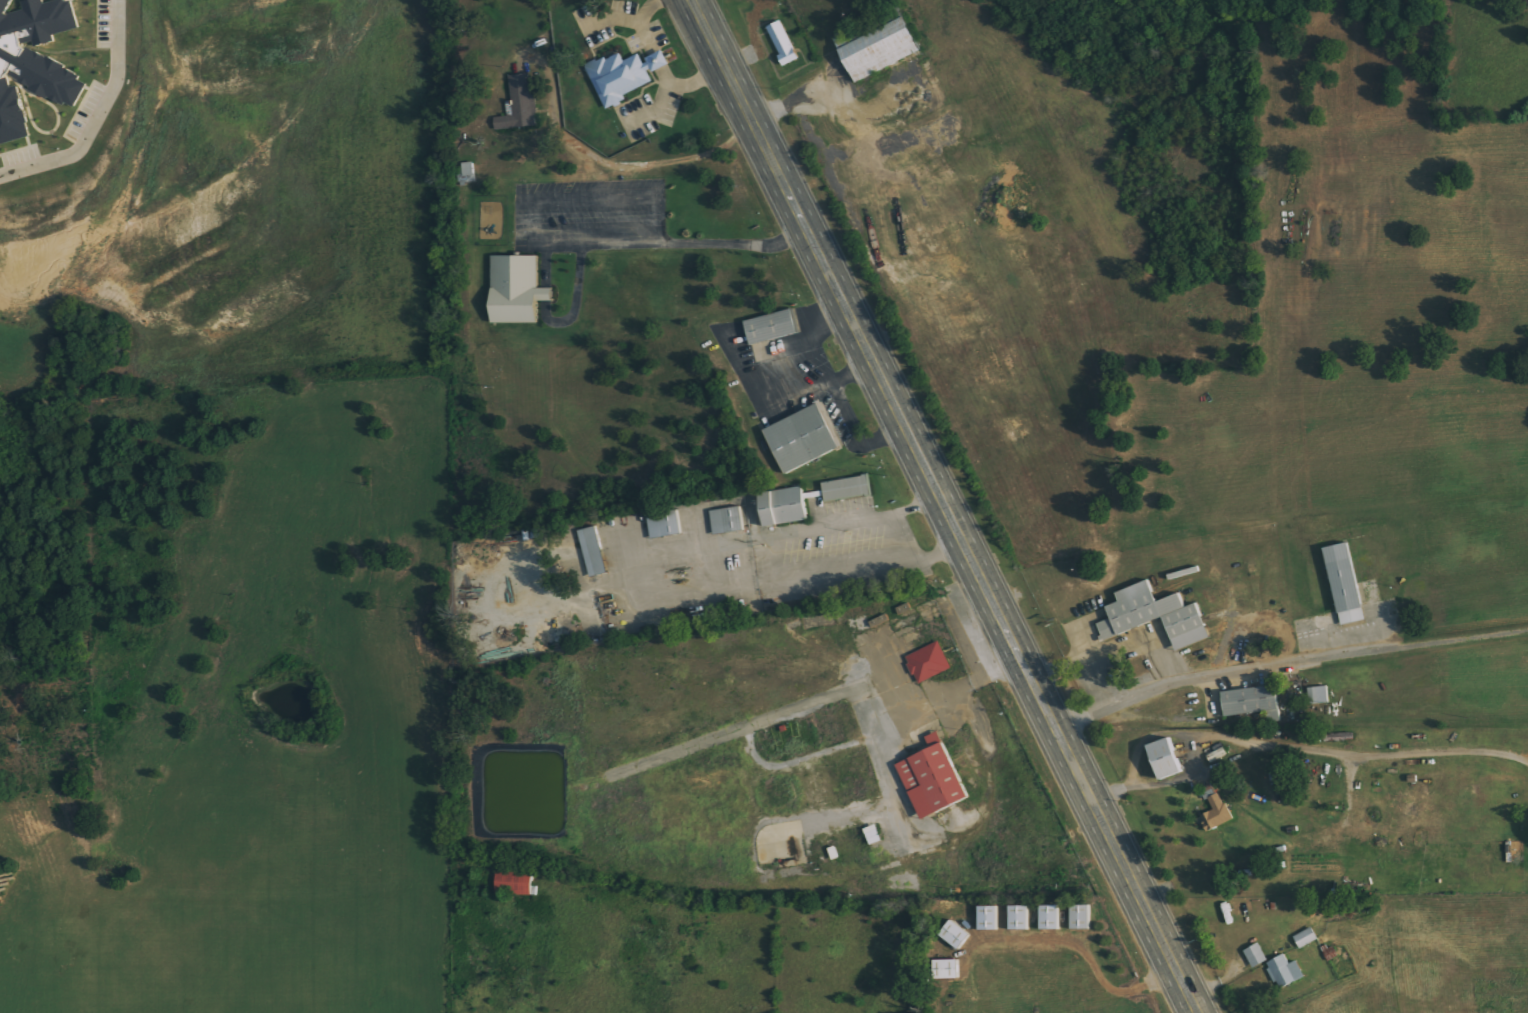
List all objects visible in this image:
building: (784, 43)
building: (880, 49)
building: (33, 60)
building: (618, 77)
building: (520, 104)
road: (100, 118)
road: (627, 167)
building: (468, 173)
building: (518, 289)
building: (773, 327)
building: (762, 352)
building: (804, 439)
building: (848, 489)
road: (944, 505)
building: (784, 507)
building: (727, 521)
building: (665, 524)
road: (896, 537)
building: (593, 552)
road: (769, 566)
building: (1346, 584)
building: (1161, 626)
building: (929, 662)
road: (1288, 668)
building: (1319, 696)
building: (1260, 711)
building: (1168, 759)
building: (934, 779)
building: (1208, 792)
building: (1217, 814)
building: (514, 883)
building: (1051, 916)
building: (1082, 916)
building: (989, 917)
building: (1020, 917)
building: (956, 934)
building: (1306, 937)
building: (1256, 955)
building: (947, 969)
building: (1285, 971)

